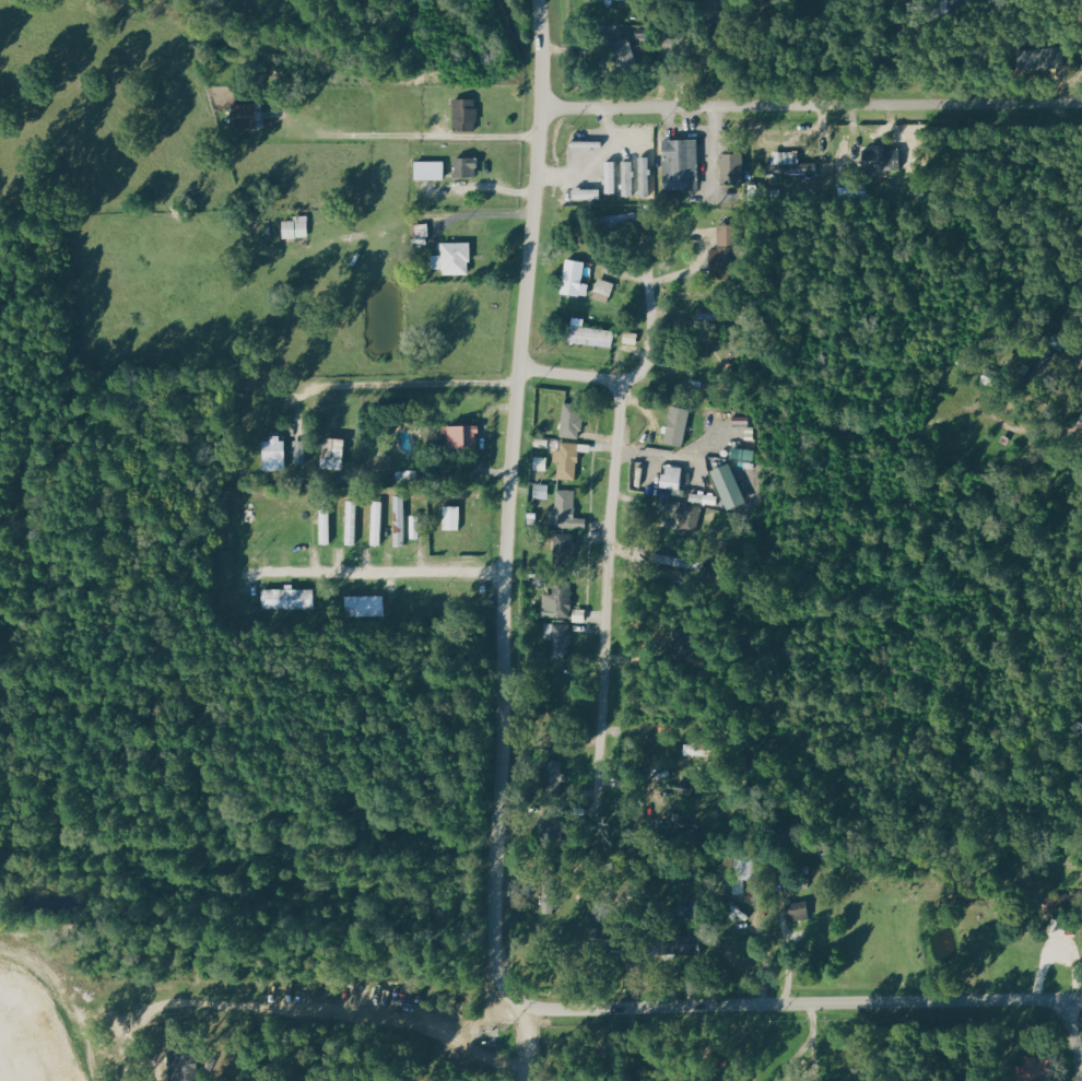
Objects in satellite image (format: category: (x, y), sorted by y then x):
road: (813, 104)
building: (463, 114)
building: (246, 116)
road: (493, 137)
building: (879, 158)
building: (679, 163)
building: (790, 163)
building: (463, 167)
building: (729, 167)
building: (426, 169)
building: (610, 177)
building: (627, 178)
building: (854, 191)
building: (670, 198)
building: (294, 227)
building: (451, 258)
building: (573, 279)
building: (601, 290)
road: (649, 320)
building: (586, 333)
building: (628, 338)
road: (400, 387)
building: (569, 421)
building: (674, 425)
building: (459, 437)
building: (331, 454)
road: (657, 454)
building: (272, 455)
building: (565, 460)
building: (637, 475)
building: (670, 478)
building: (728, 487)
building: (540, 491)
building: (564, 512)
building: (450, 518)
building: (399, 520)
building: (351, 522)
building: (376, 522)
building: (324, 524)
road: (612, 538)
building: (562, 549)
building: (669, 560)
road: (380, 578)
building: (286, 599)
building: (556, 601)
building: (364, 606)
building: (558, 641)
building: (553, 776)
road: (503, 785)
building: (678, 824)
building: (795, 912)
building: (677, 943)
road: (1073, 1034)
road: (533, 1045)
building: (192, 1065)
building: (1031, 1069)

